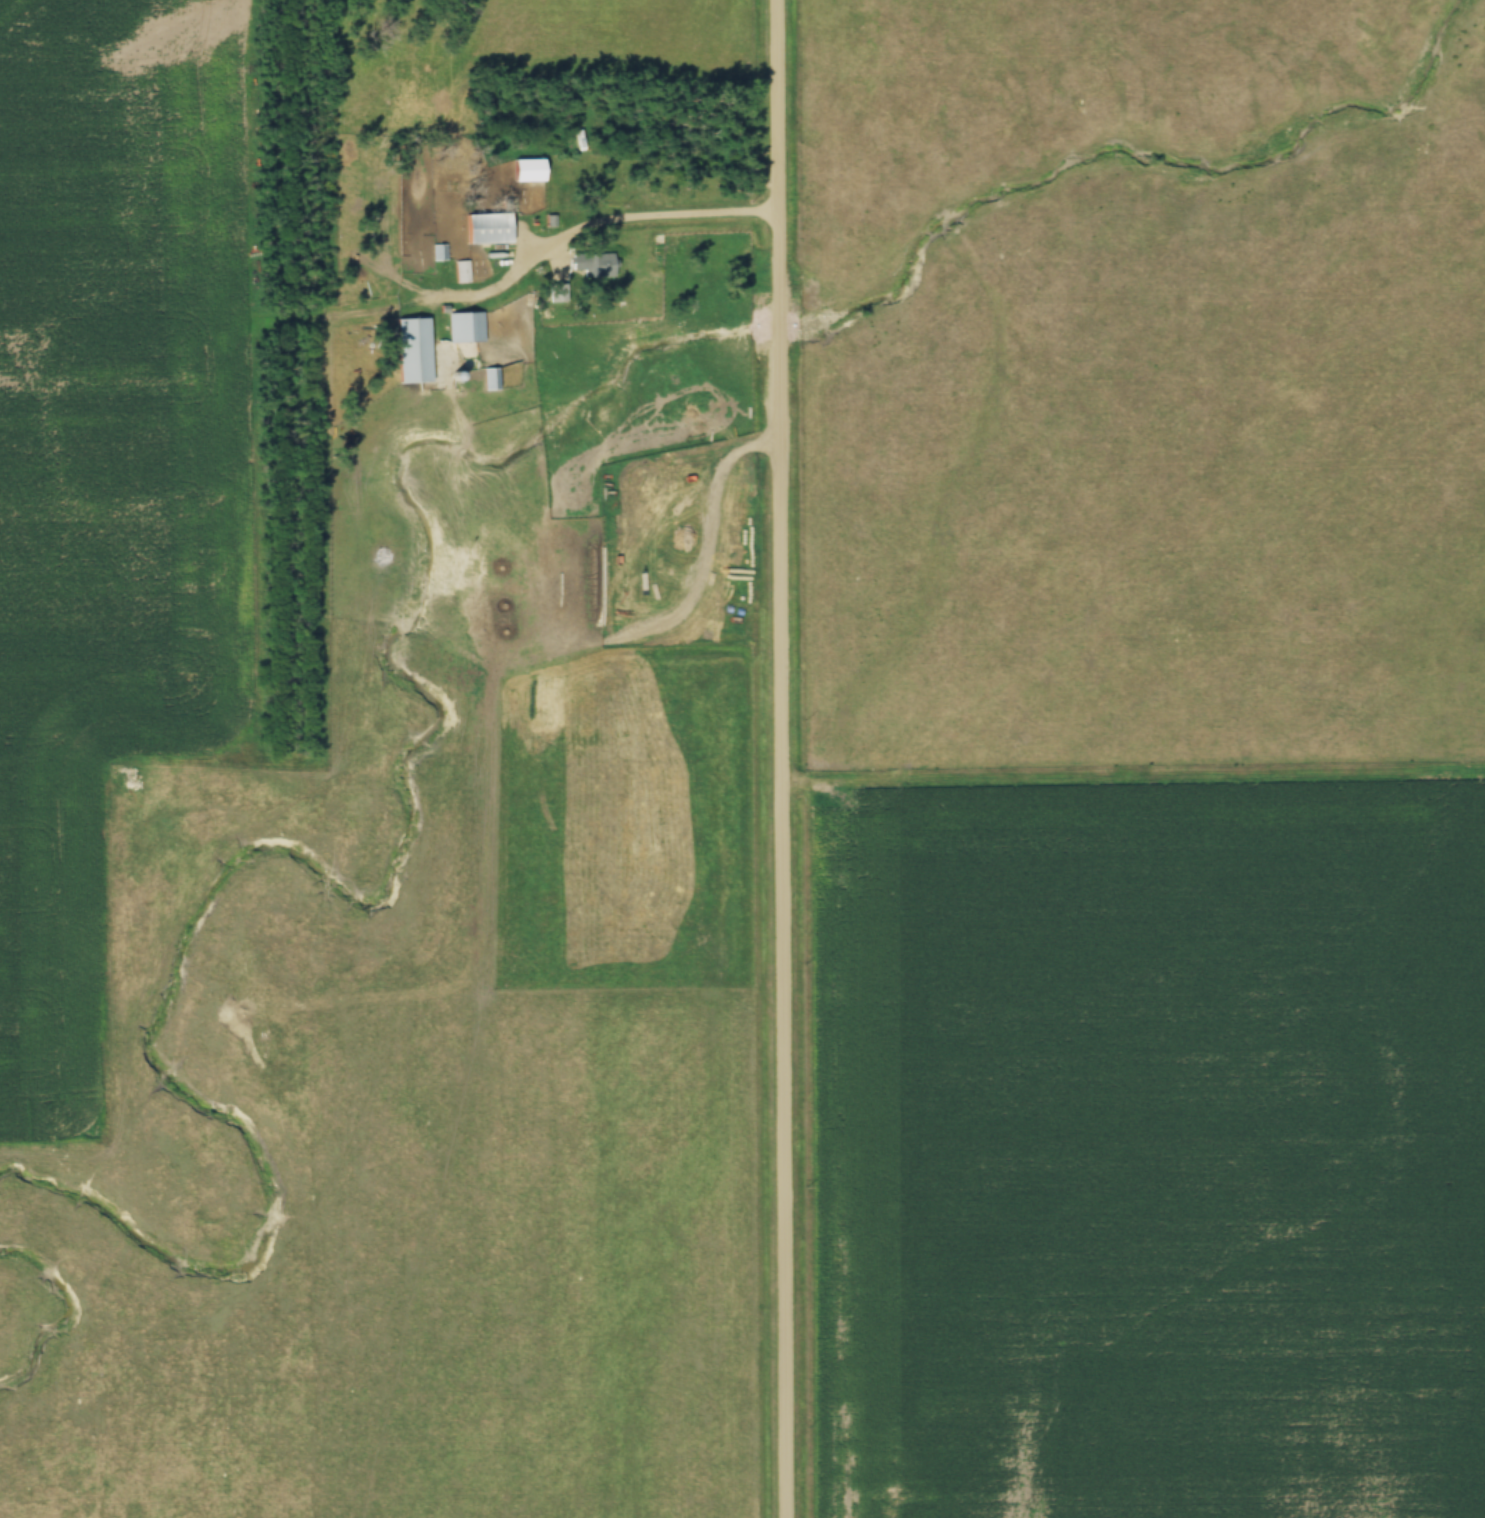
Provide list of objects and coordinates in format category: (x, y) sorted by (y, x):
road: (593, 216)
building: (485, 229)
building: (596, 266)
building: (465, 327)
building: (412, 351)
road: (782, 758)

